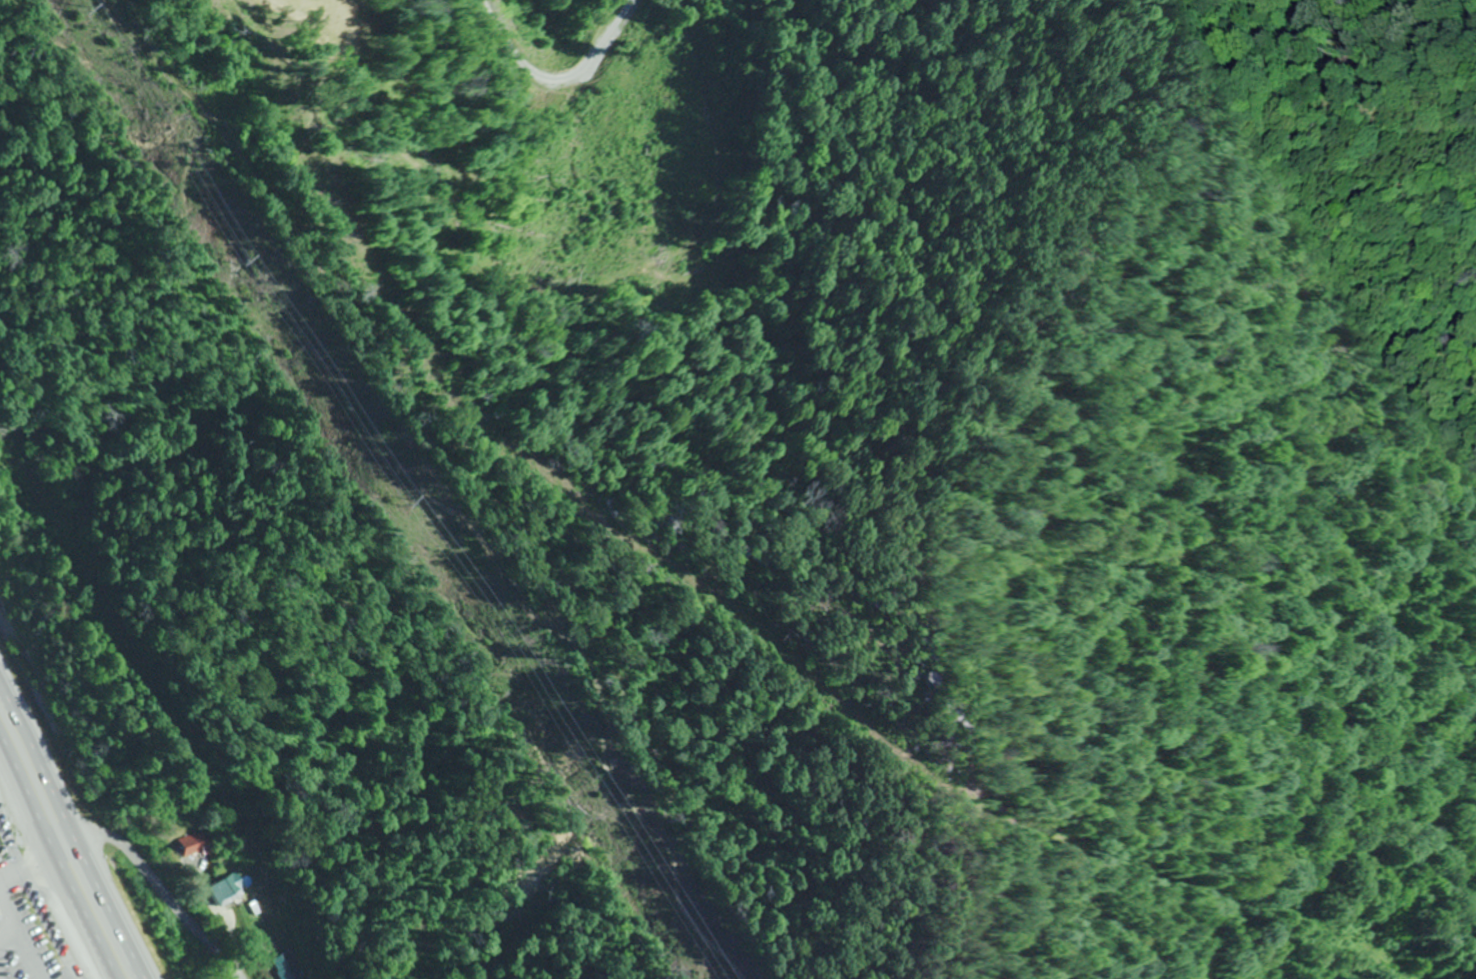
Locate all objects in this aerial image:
road: (74, 826)
building: (195, 849)
road: (57, 862)
road: (166, 890)
building: (222, 892)
building: (283, 967)

